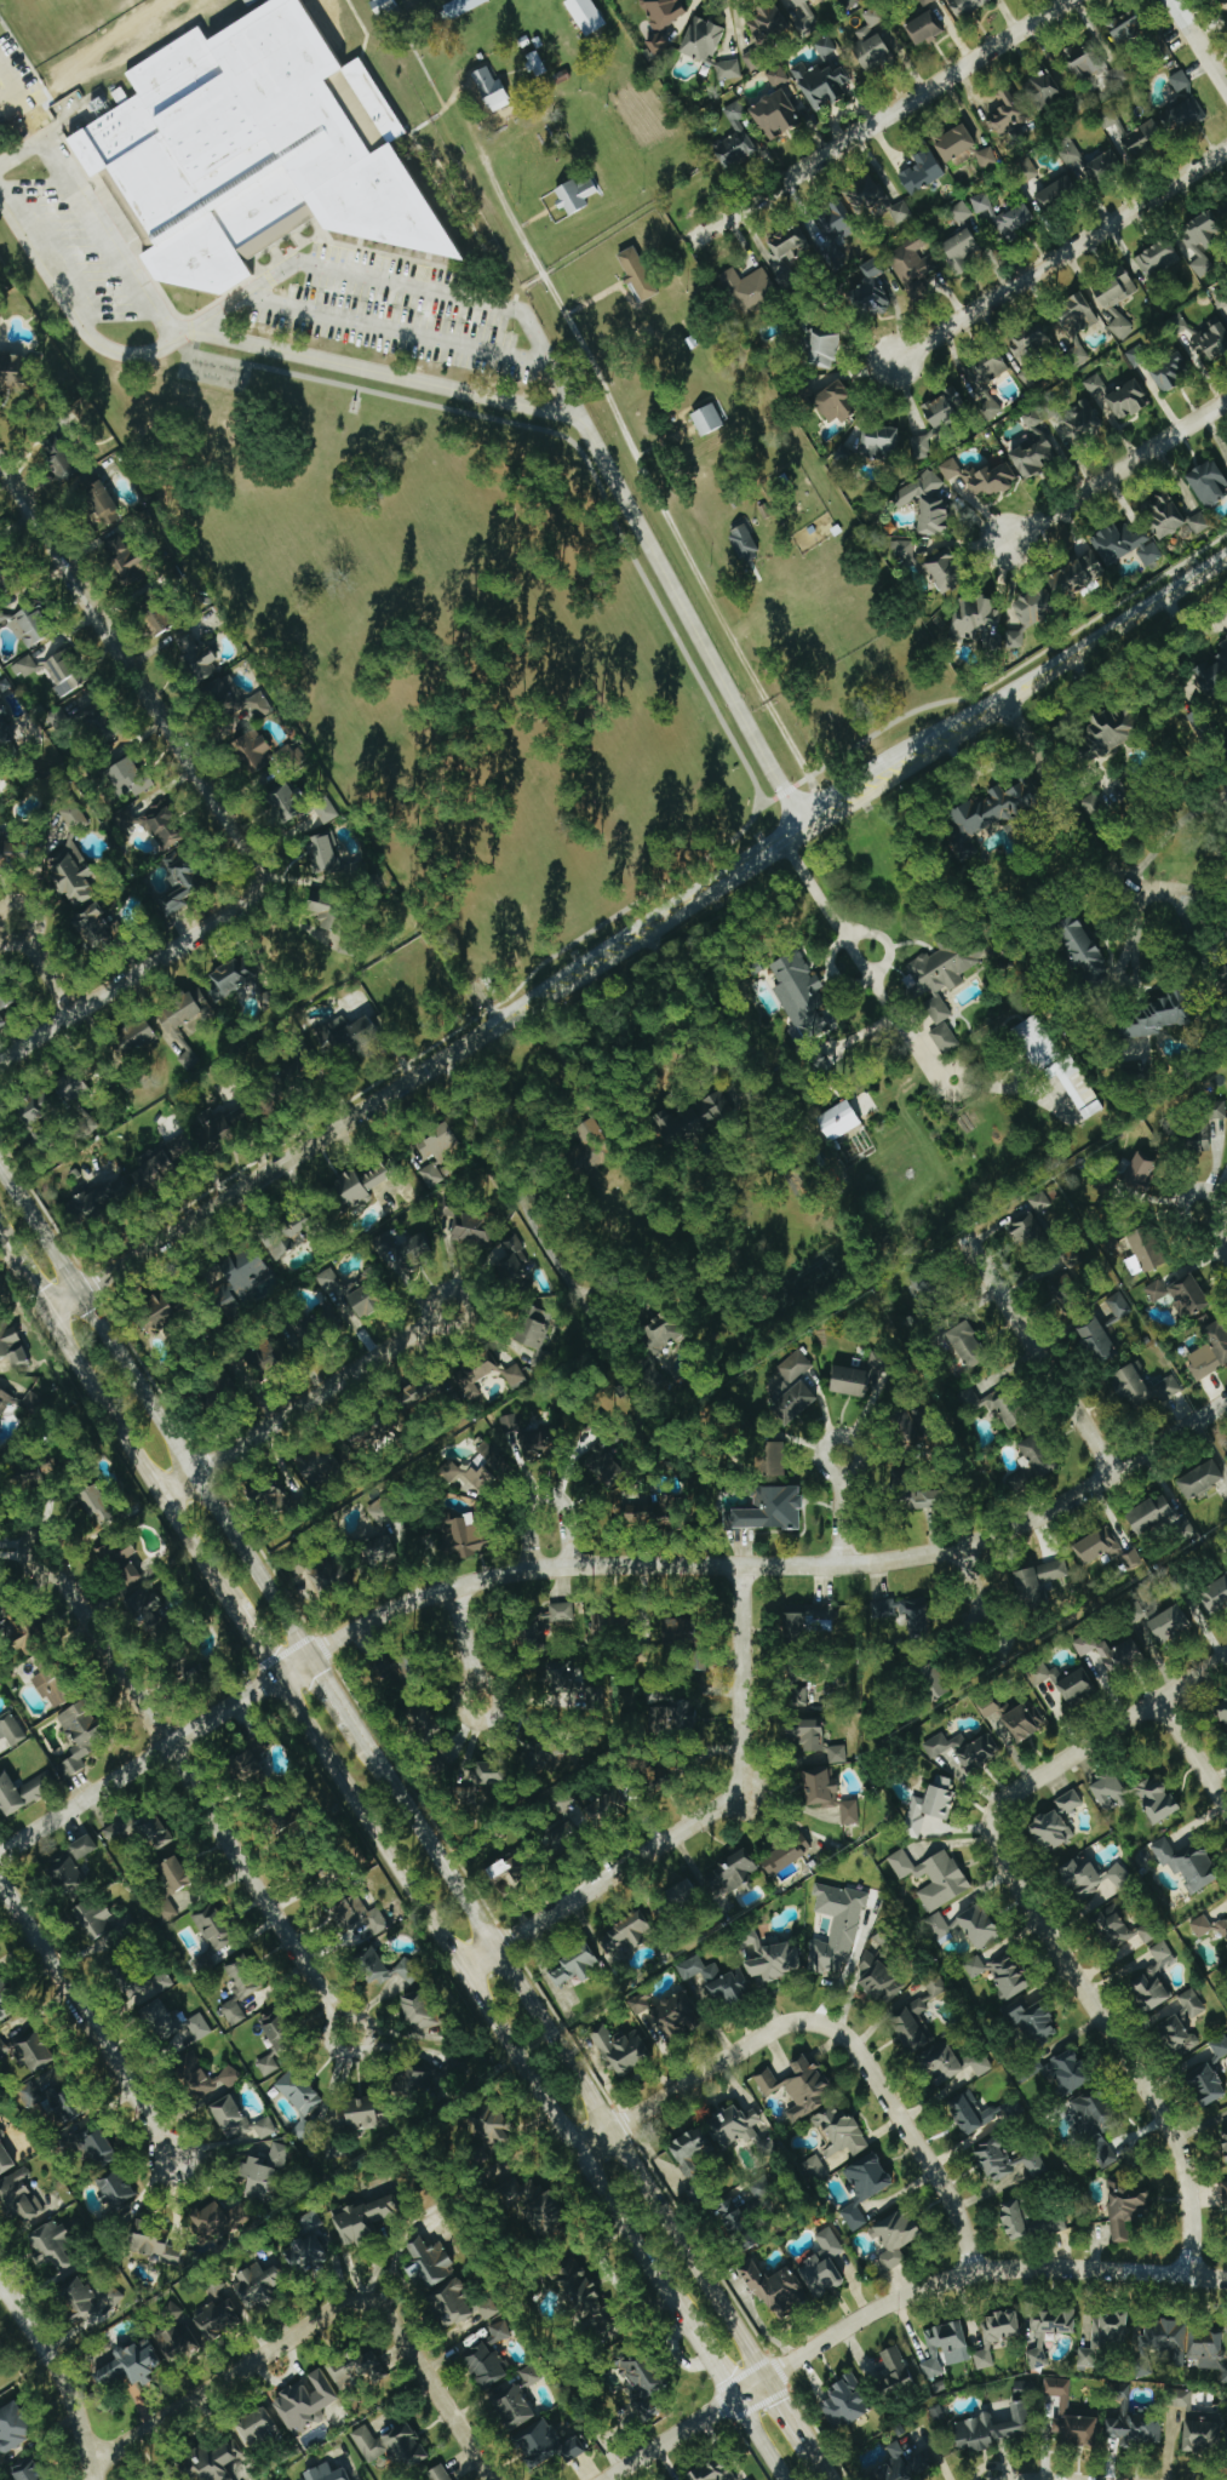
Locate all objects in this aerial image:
building: (250, 1)
building: (927, 2)
building: (1225, 2)
building: (382, 5)
building: (967, 6)
building: (460, 7)
building: (586, 15)
building: (802, 16)
building: (873, 17)
building: (661, 19)
building: (768, 22)
building: (1128, 28)
building: (924, 29)
building: (703, 40)
road: (1198, 45)
building: (876, 46)
building: (826, 47)
building: (1085, 62)
building: (729, 69)
building: (778, 76)
road: (13, 84)
building: (822, 85)
building: (1043, 88)
building: (492, 90)
building: (1008, 113)
building: (778, 114)
building: (1183, 115)
road: (879, 120)
building: (1145, 138)
building: (735, 139)
building: (956, 142)
building: (251, 150)
building: (1070, 151)
building: (987, 157)
building: (1105, 166)
building: (1025, 168)
building: (923, 172)
building: (1059, 194)
building: (577, 195)
building: (867, 197)
building: (984, 207)
building: (1225, 208)
building: (901, 212)
building: (962, 212)
road: (94, 214)
building: (1015, 220)
building: (832, 225)
building: (1203, 240)
building: (789, 245)
building: (962, 251)
road: (1060, 256)
building: (1158, 258)
building: (914, 265)
building: (638, 274)
road: (405, 285)
building: (749, 290)
building: (884, 296)
building: (1116, 313)
building: (1076, 326)
road: (396, 330)
building: (1031, 343)
building: (1212, 343)
building: (822, 349)
building: (1137, 355)
crop: (666, 360)
building: (13, 373)
building: (1171, 373)
building: (1031, 376)
building: (987, 383)
building: (1095, 385)
road: (475, 394)
building: (1128, 400)
building: (836, 403)
building: (707, 419)
building: (1079, 425)
building: (879, 441)
building: (922, 446)
building: (1034, 447)
building: (63, 465)
road: (1116, 470)
building: (979, 479)
building: (1209, 482)
road: (654, 485)
building: (103, 504)
building: (930, 504)
building: (1172, 516)
building: (744, 542)
building: (1126, 545)
building: (906, 555)
building: (125, 561)
building: (945, 572)
building: (5, 575)
building: (1078, 575)
building: (1036, 606)
building: (160, 619)
building: (979, 620)
building: (33, 625)
road: (1187, 625)
building: (1015, 640)
building: (199, 658)
building: (25, 666)
road: (131, 672)
building: (1214, 672)
building: (63, 674)
building: (6, 723)
building: (101, 726)
building: (1116, 729)
building: (253, 750)
building: (292, 756)
building: (128, 778)
building: (286, 801)
building: (1093, 806)
building: (1003, 808)
building: (326, 811)
road: (1072, 815)
building: (74, 818)
building: (162, 826)
road: (1168, 832)
building: (8, 853)
building: (323, 853)
building: (349, 872)
building: (73, 875)
building: (180, 883)
road: (1199, 890)
road: (1136, 895)
road: (1179, 911)
building: (332, 924)
building: (97, 928)
road: (836, 928)
road: (636, 933)
road: (884, 939)
road: (1124, 941)
building: (1083, 946)
road: (45, 967)
road: (831, 973)
road: (131, 974)
building: (941, 975)
building: (231, 978)
road: (1122, 979)
road: (1134, 984)
building: (801, 995)
building: (2, 1006)
building: (1158, 1020)
building: (184, 1024)
road: (913, 1024)
road: (860, 1032)
building: (348, 1033)
building: (137, 1037)
building: (945, 1038)
road: (913, 1047)
building: (1057, 1065)
road: (964, 1072)
road: (1016, 1076)
road: (1011, 1086)
building: (75, 1089)
building: (40, 1111)
building: (225, 1117)
building: (839, 1121)
building: (91, 1124)
building: (1212, 1128)
building: (594, 1142)
building: (436, 1146)
building: (182, 1147)
building: (1142, 1165)
building: (155, 1170)
building: (432, 1175)
building: (362, 1182)
building: (104, 1198)
building: (1040, 1202)
road: (524, 1209)
building: (298, 1225)
building: (470, 1225)
building: (1027, 1228)
road: (1212, 1231)
building: (276, 1243)
building: (403, 1253)
building: (1145, 1253)
building: (509, 1256)
building: (240, 1275)
road: (22, 1276)
building: (925, 1287)
building: (354, 1293)
building: (1066, 1295)
building: (1181, 1295)
building: (1119, 1304)
building: (159, 1311)
building: (537, 1327)
building: (664, 1331)
building: (1097, 1340)
building: (11, 1345)
building: (971, 1350)
building: (1210, 1352)
road: (1037, 1357)
building: (263, 1358)
building: (540, 1358)
building: (877, 1362)
building: (796, 1365)
building: (515, 1376)
building: (469, 1379)
building: (852, 1381)
building: (1147, 1386)
building: (422, 1391)
building: (2, 1397)
road: (305, 1399)
building: (33, 1401)
building: (795, 1403)
building: (996, 1404)
road: (157, 1407)
building: (371, 1432)
building: (533, 1436)
road: (842, 1437)
building: (1038, 1451)
building: (772, 1459)
road: (138, 1460)
building: (602, 1464)
building: (319, 1466)
building: (480, 1467)
building: (1202, 1479)
road: (543, 1494)
building: (928, 1499)
building: (277, 1500)
building: (383, 1508)
building: (773, 1508)
building: (646, 1510)
building: (1152, 1513)
road: (841, 1522)
building: (1187, 1529)
building: (469, 1535)
building: (1097, 1547)
building: (379, 1550)
building: (1131, 1559)
building: (121, 1563)
road: (595, 1565)
building: (316, 1575)
building: (1039, 1580)
road: (969, 1582)
building: (1216, 1596)
building: (155, 1613)
building: (557, 1615)
building: (907, 1615)
road: (976, 1617)
building: (810, 1622)
building: (597, 1623)
building: (1171, 1623)
building: (681, 1630)
road: (463, 1636)
road: (253, 1644)
building: (1111, 1651)
building: (407, 1669)
building: (191, 1671)
building: (1045, 1674)
building: (934, 1682)
building: (53, 1684)
building: (577, 1684)
road: (474, 1686)
building: (1077, 1686)
road: (333, 1688)
building: (801, 1695)
building: (1223, 1708)
building: (676, 1714)
building: (997, 1716)
building: (425, 1722)
building: (1025, 1722)
building: (12, 1729)
road: (1106, 1732)
building: (81, 1735)
building: (810, 1735)
building: (963, 1749)
road: (1193, 1753)
building: (837, 1754)
building: (533, 1756)
building: (254, 1762)
building: (486, 1777)
building: (819, 1786)
building: (22, 1792)
building: (1111, 1792)
road: (199, 1797)
building: (1157, 1799)
building: (1070, 1802)
building: (931, 1805)
building: (270, 1806)
building: (602, 1809)
building: (850, 1812)
road: (698, 1821)
building: (291, 1822)
building: (141, 1828)
building: (1053, 1831)
building: (564, 1837)
building: (84, 1846)
building: (786, 1855)
building: (1188, 1863)
building: (511, 1868)
building: (733, 1873)
building: (176, 1874)
building: (67, 1875)
building: (934, 1877)
building: (683, 1894)
building: (167, 1908)
building: (362, 1920)
building: (97, 1925)
building: (1202, 1925)
building: (968, 1926)
building: (1223, 1928)
building: (837, 1929)
building: (1123, 1932)
building: (212, 1937)
building: (770, 1958)
building: (373, 1965)
building: (573, 1968)
building: (975, 1968)
building: (408, 1971)
building: (881, 1974)
building: (1009, 1976)
building: (243, 1978)
building: (715, 1980)
building: (1154, 1980)
building: (143, 1981)
building: (936, 1989)
building: (6, 2000)
building: (641, 2003)
building: (1191, 2005)
road: (487, 2008)
building: (419, 2010)
building: (233, 2012)
building: (675, 2016)
road: (337, 2020)
building: (1033, 2022)
road: (85, 2023)
building: (174, 2026)
building: (912, 2026)
building: (1179, 2034)
road: (1112, 2038)
building: (275, 2040)
building: (2, 2049)
building: (623, 2049)
road: (561, 2050)
building: (33, 2051)
building: (944, 2063)
building: (981, 2064)
building: (1066, 2071)
building: (1210, 2075)
road: (699, 2078)
building: (422, 2080)
building: (212, 2084)
building: (801, 2089)
building: (30, 2094)
building: (299, 2097)
building: (63, 2109)
building: (975, 2113)
building: (1095, 2113)
building: (365, 2115)
building: (231, 2117)
building: (738, 2125)
building: (265, 2127)
building: (841, 2132)
building: (494, 2134)
building: (1225, 2137)
road: (913, 2141)
building: (99, 2149)
building: (1103, 2153)
building: (689, 2158)
building: (5, 2159)
building: (1007, 2160)
building: (816, 2169)
building: (264, 2171)
building: (870, 2176)
building: (1225, 2190)
building: (116, 2192)
building: (19, 2197)
building: (537, 2205)
building: (1126, 2209)
building: (747, 2213)
building: (855, 2217)
building: (219, 2220)
building: (366, 2220)
building: (1027, 2221)
building: (896, 2236)
building: (153, 2244)
building: (53, 2245)
building: (306, 2246)
building: (429, 2263)
building: (824, 2266)
building: (258, 2285)
building: (774, 2286)
building: (115, 2297)
building: (585, 2297)
building: (79, 2298)
road: (895, 2301)
building: (453, 2303)
building: (489, 2309)
building: (173, 2312)
building: (217, 2320)
building: (1049, 2331)
building: (499, 2333)
building: (996, 2335)
building: (1165, 2337)
building: (1105, 2338)
building: (178, 2343)
building: (946, 2348)
building: (1209, 2350)
building: (132, 2365)
building: (485, 2366)
road: (717, 2369)
building: (896, 2370)
road: (233, 2375)
road: (58, 2376)
building: (529, 2376)
building: (644, 2376)
road: (436, 2396)
building: (305, 2402)
building: (847, 2402)
building: (1187, 2405)
building: (1065, 2406)
road: (792, 2415)
building: (13, 2428)
building: (258, 2428)
building: (533, 2428)
building: (993, 2429)
building: (1135, 2430)
building: (1226, 2433)
building: (1202, 2436)
road: (761, 2440)
building: (391, 2445)
building: (213, 2461)
building: (908, 2463)
road: (824, 2465)
building: (27, 2470)
building: (715, 2472)
building: (327, 2474)
building: (438, 2474)
building: (168, 2479)

